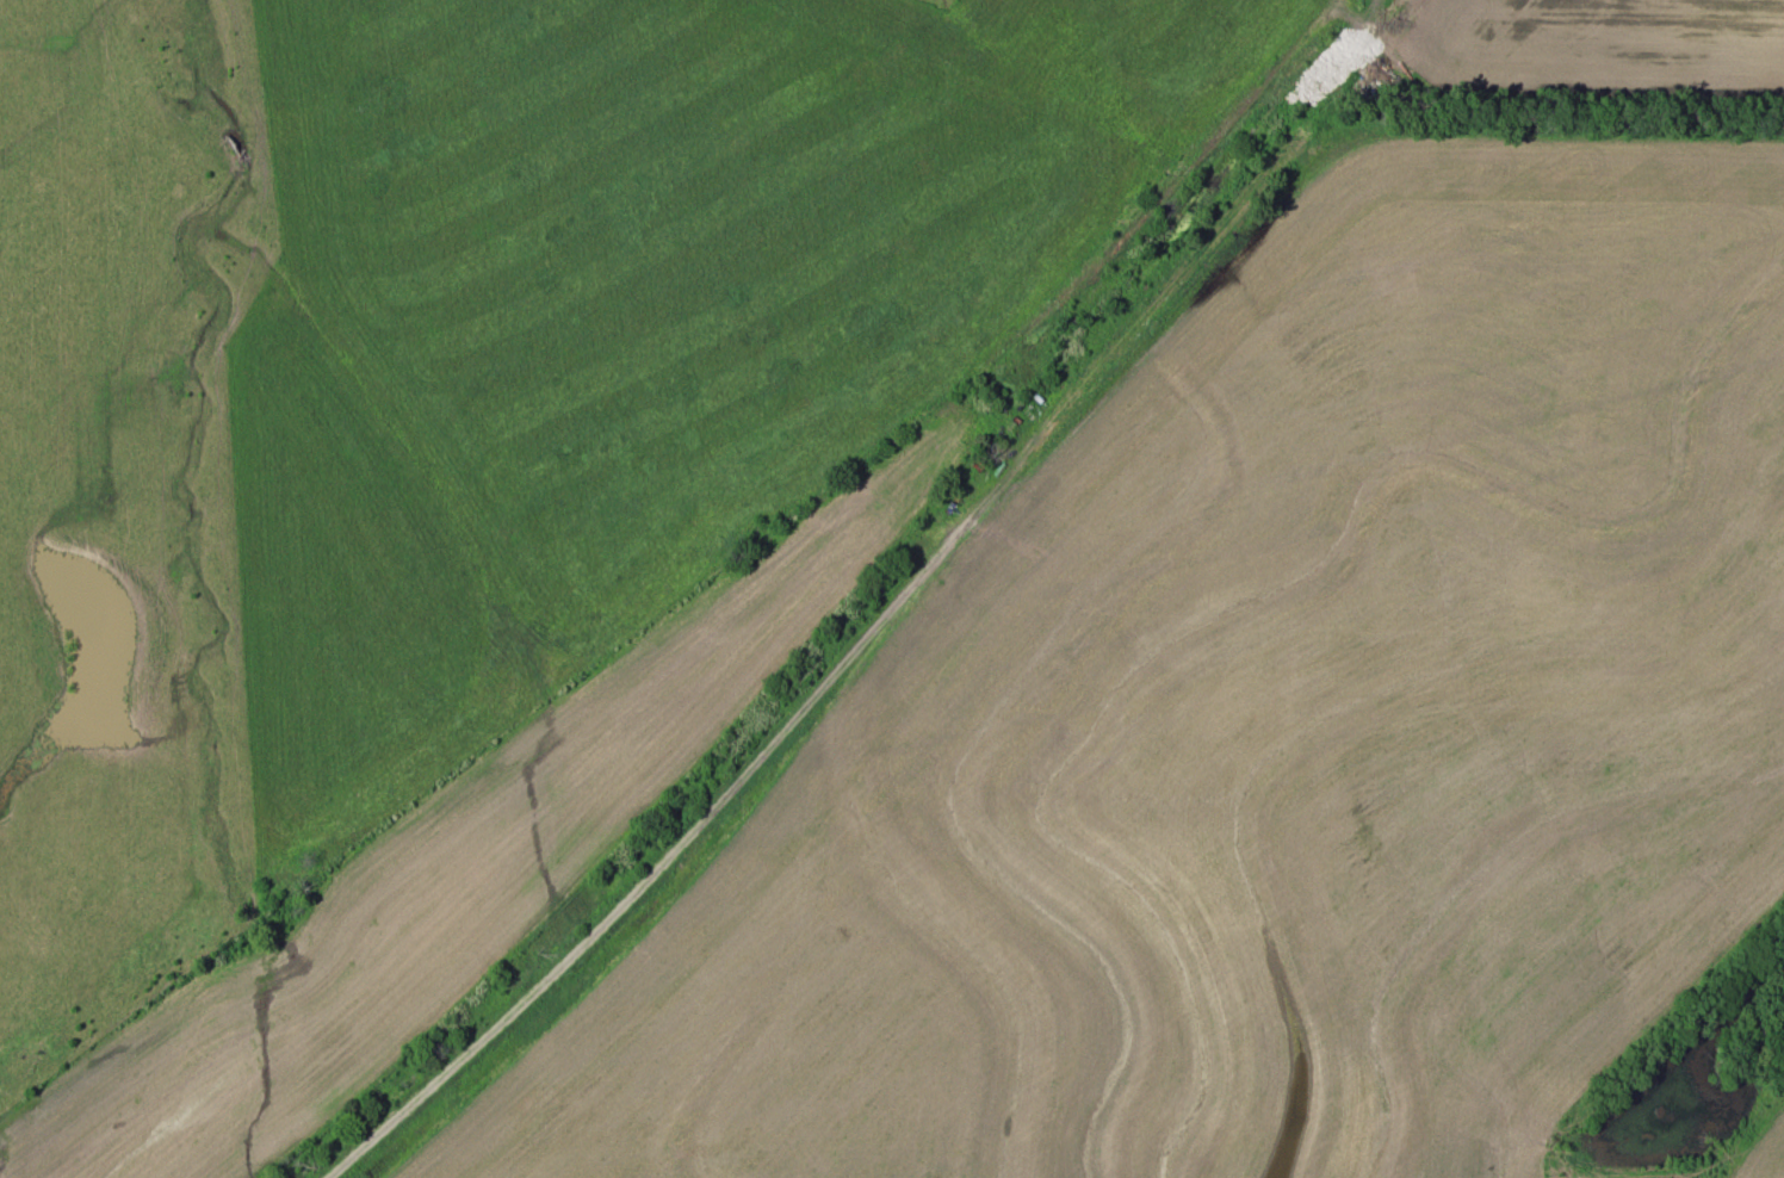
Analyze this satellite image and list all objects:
crop: (1590, 56)
crop: (458, 876)

